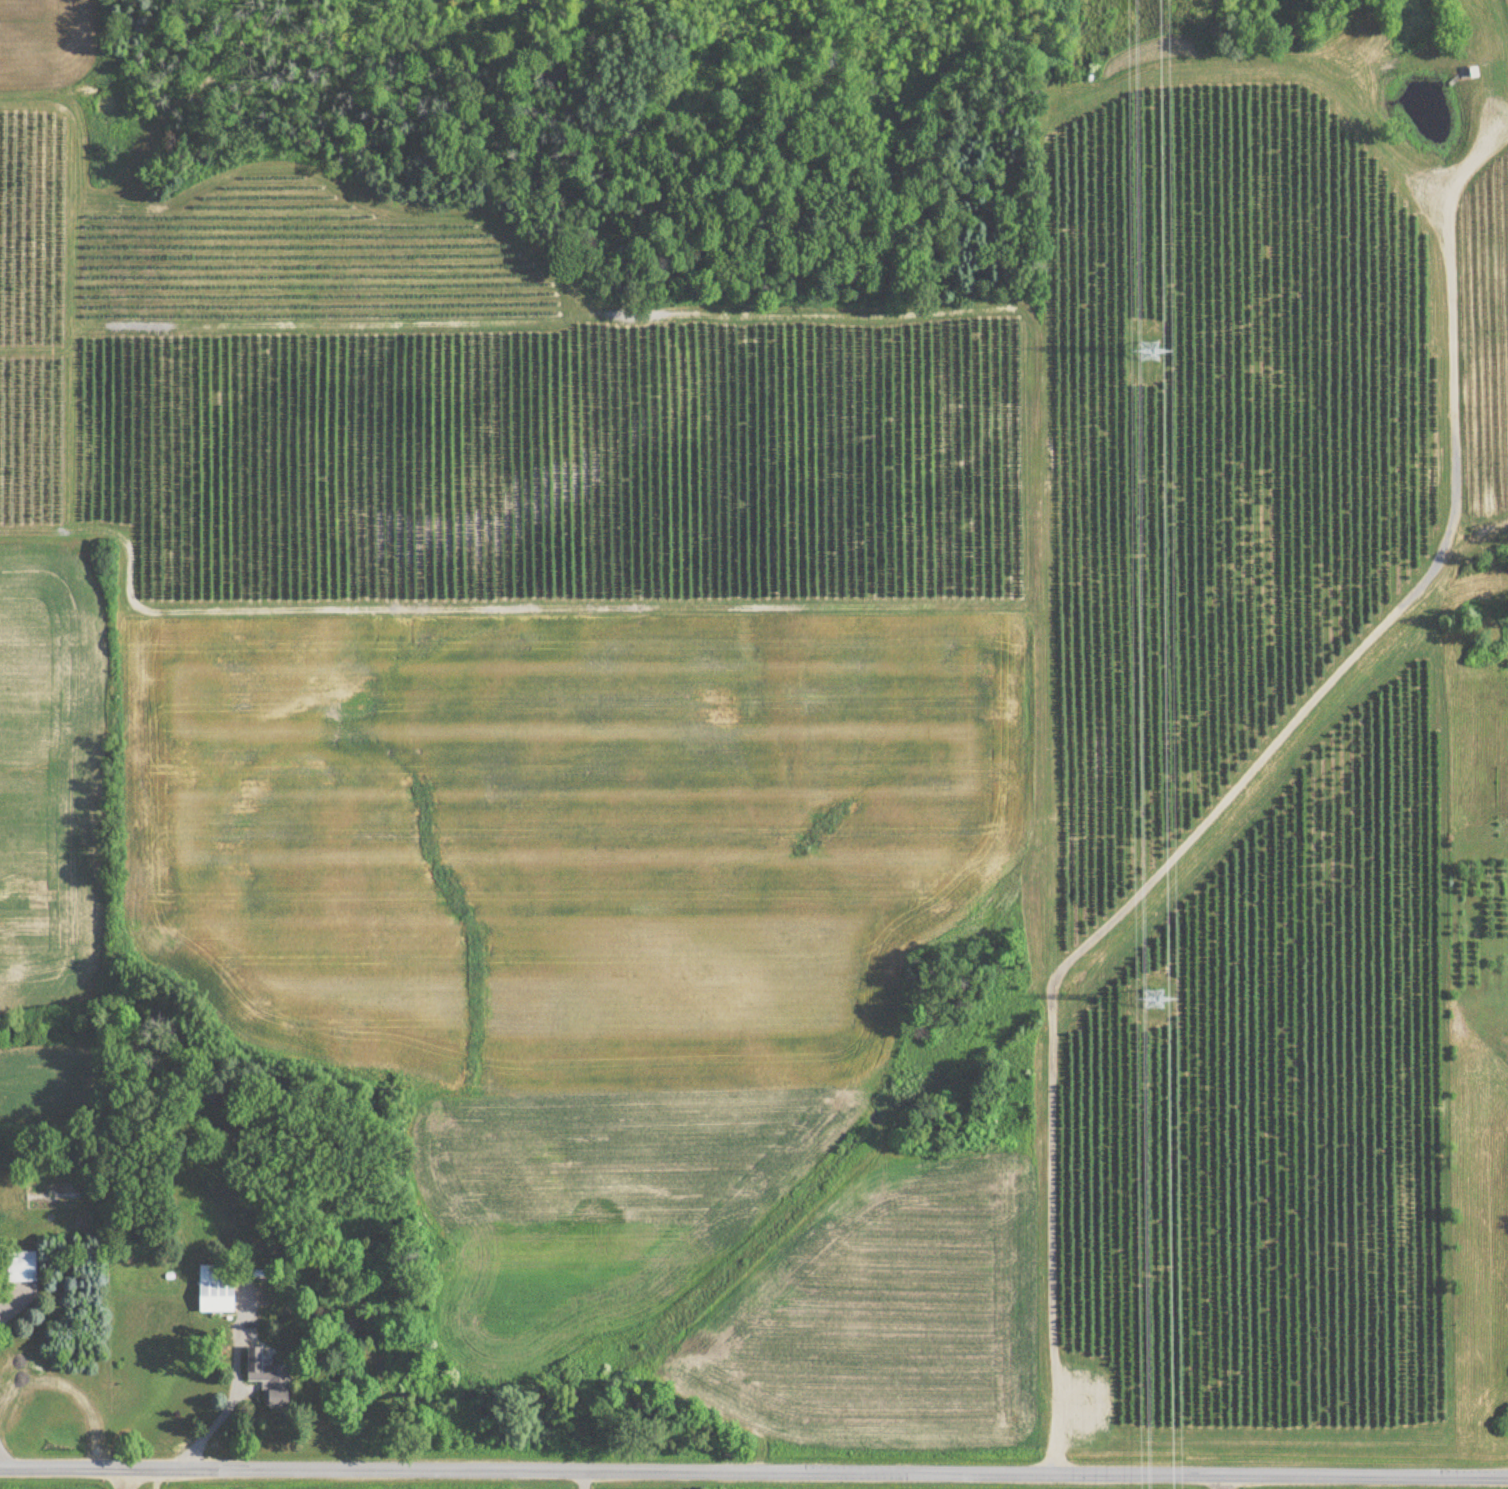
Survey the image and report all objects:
building: (1469, 73)
power tower: (1147, 345)
power tower: (1150, 990)
building: (21, 1266)
building: (216, 1288)
building: (268, 1377)
road: (229, 1392)
road: (753, 1473)
road: (141, 1478)
road: (155, 1478)
road: (584, 1480)
road: (1223, 1482)

